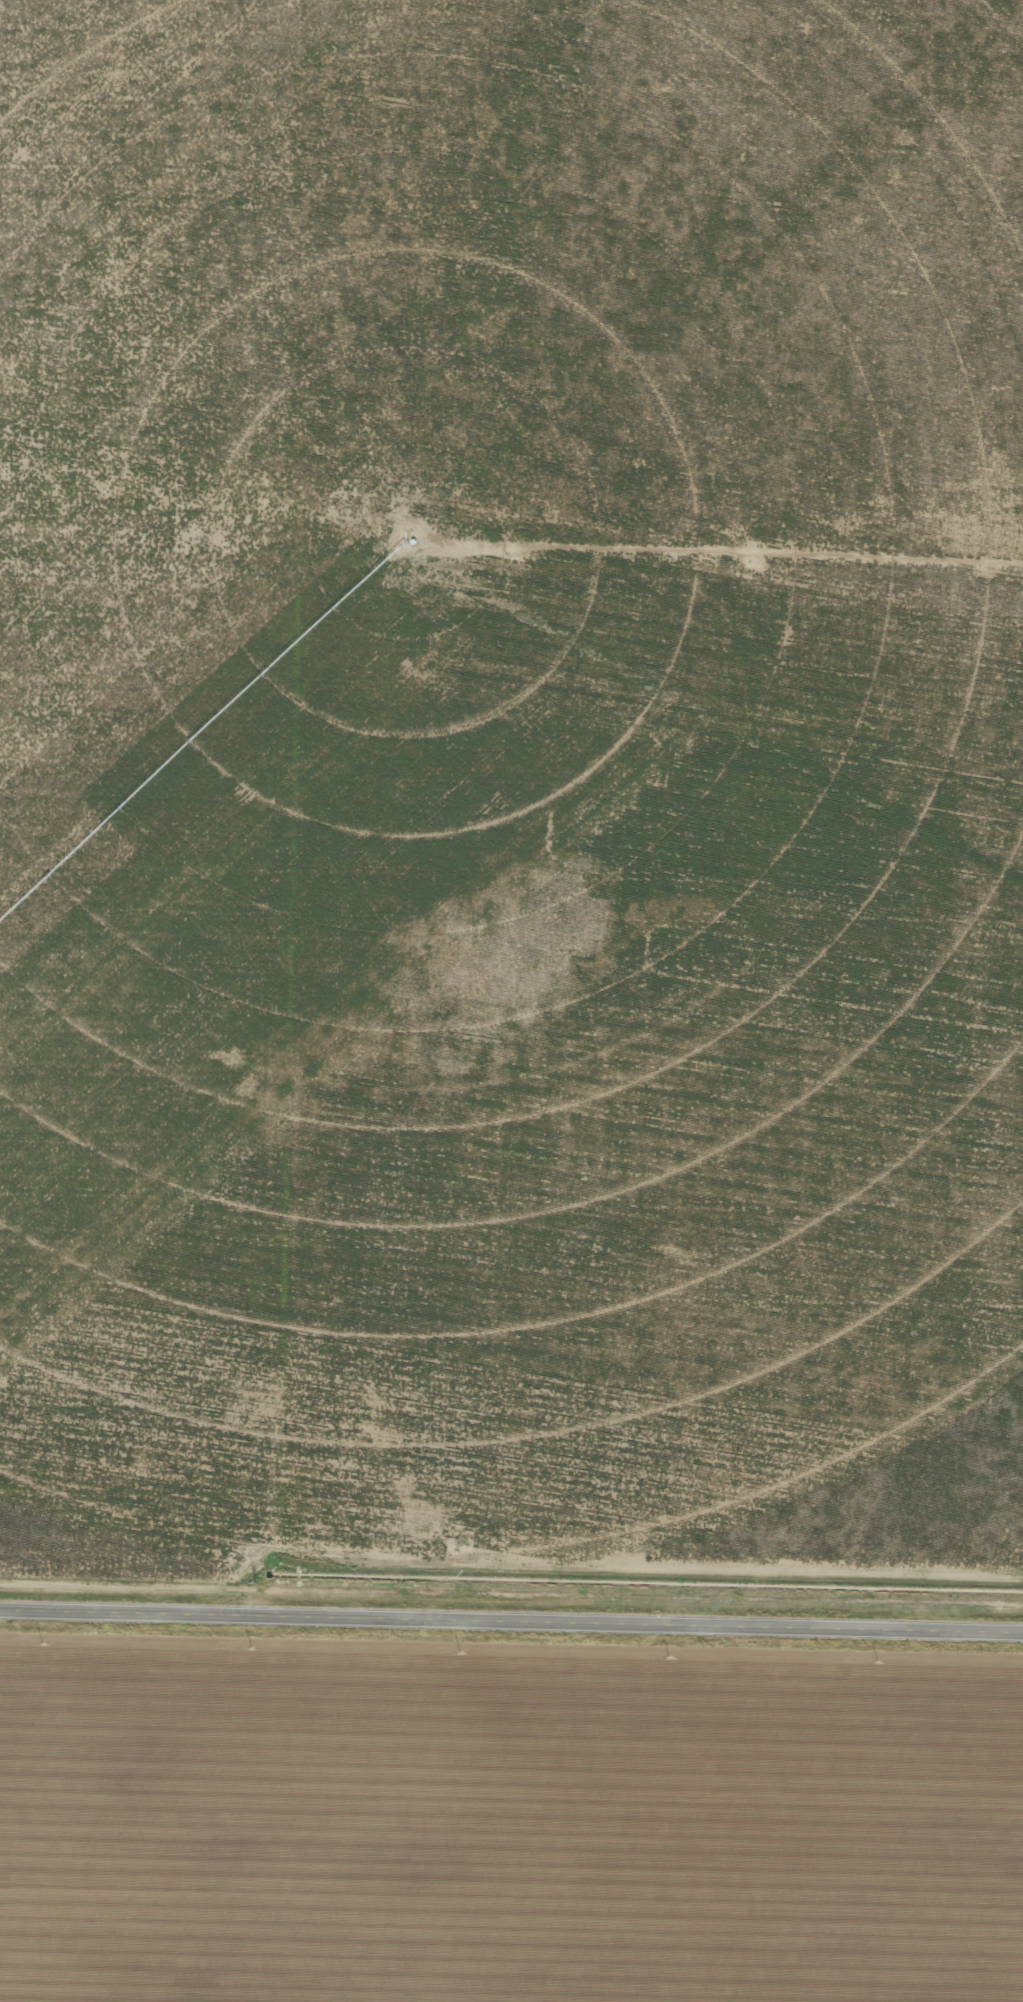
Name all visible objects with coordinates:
road: (511, 1622)

